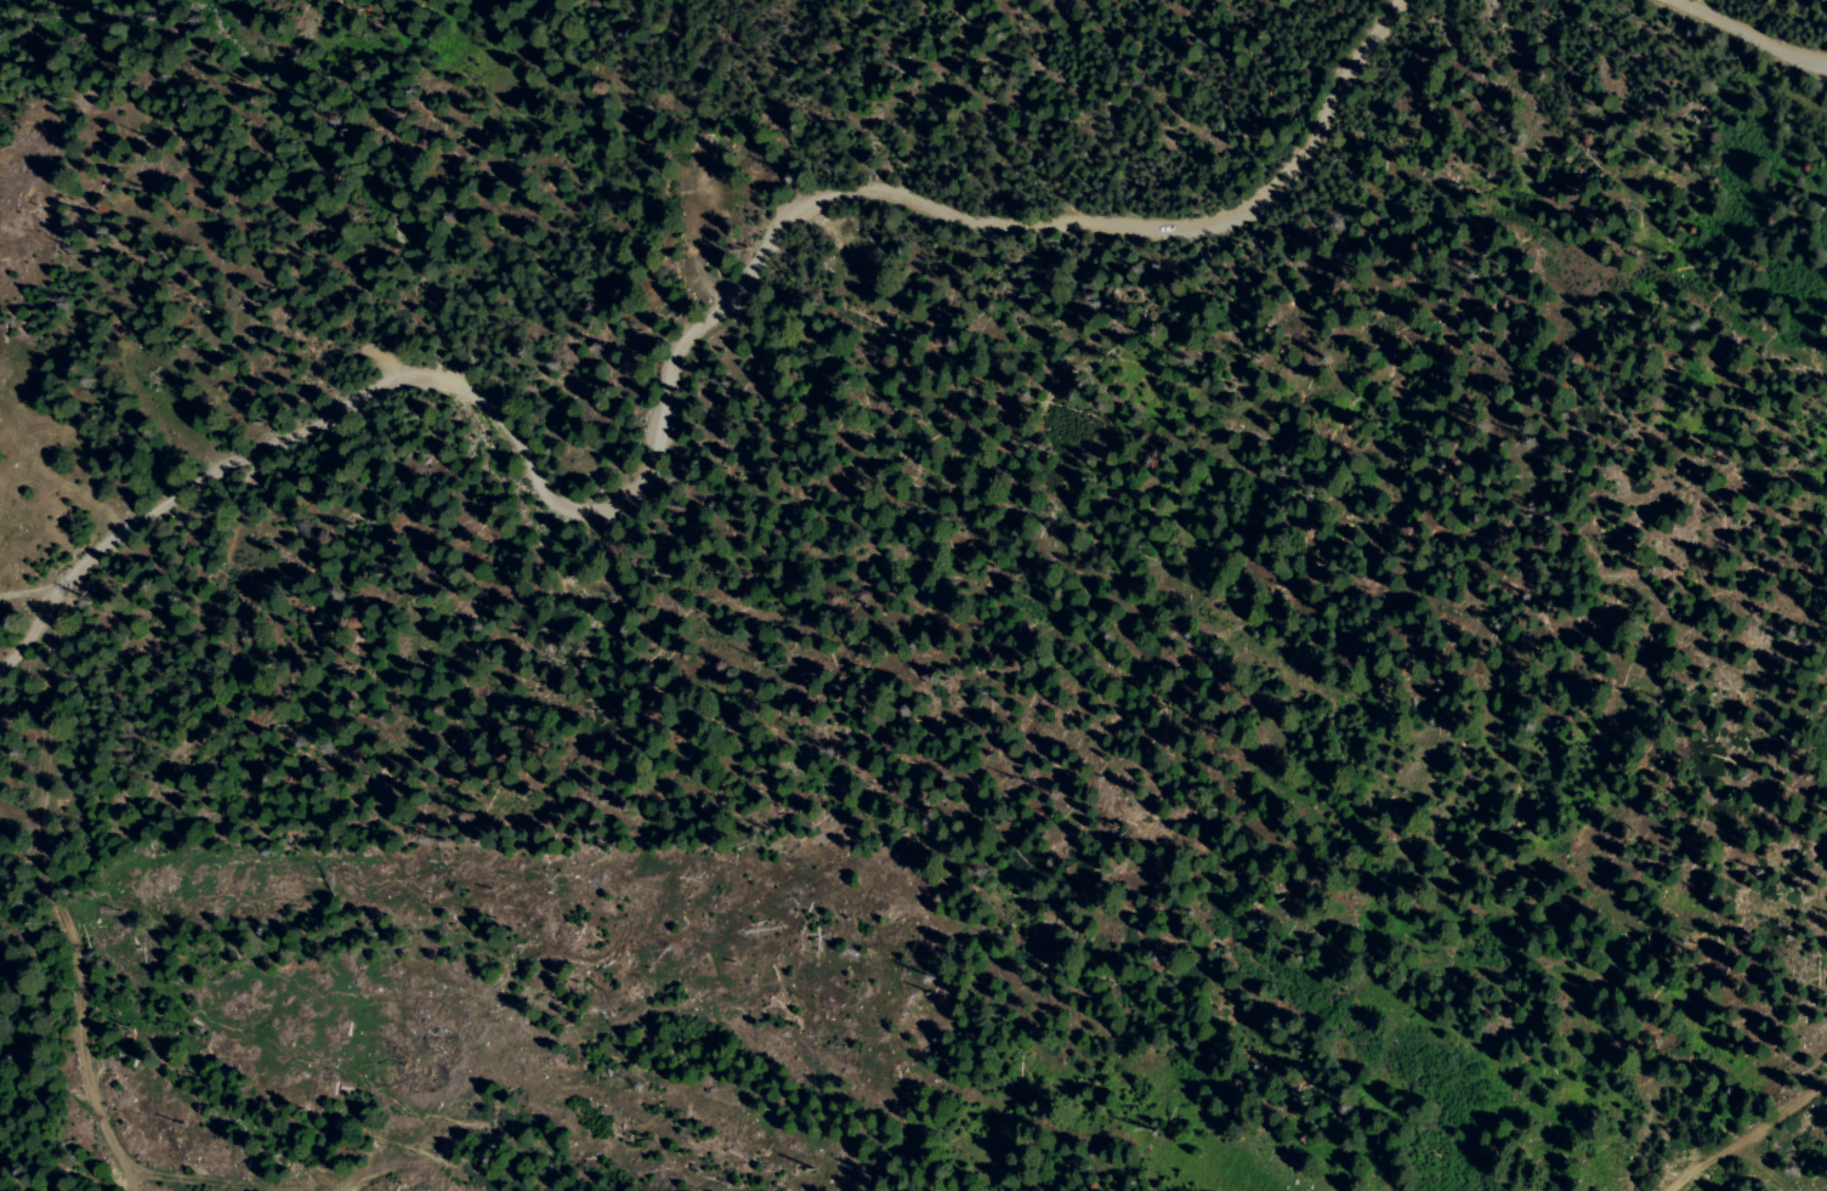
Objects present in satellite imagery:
road: (1748, 34)
road: (674, 375)
road: (59, 913)
road: (1749, 1135)
road: (1766, 1167)

